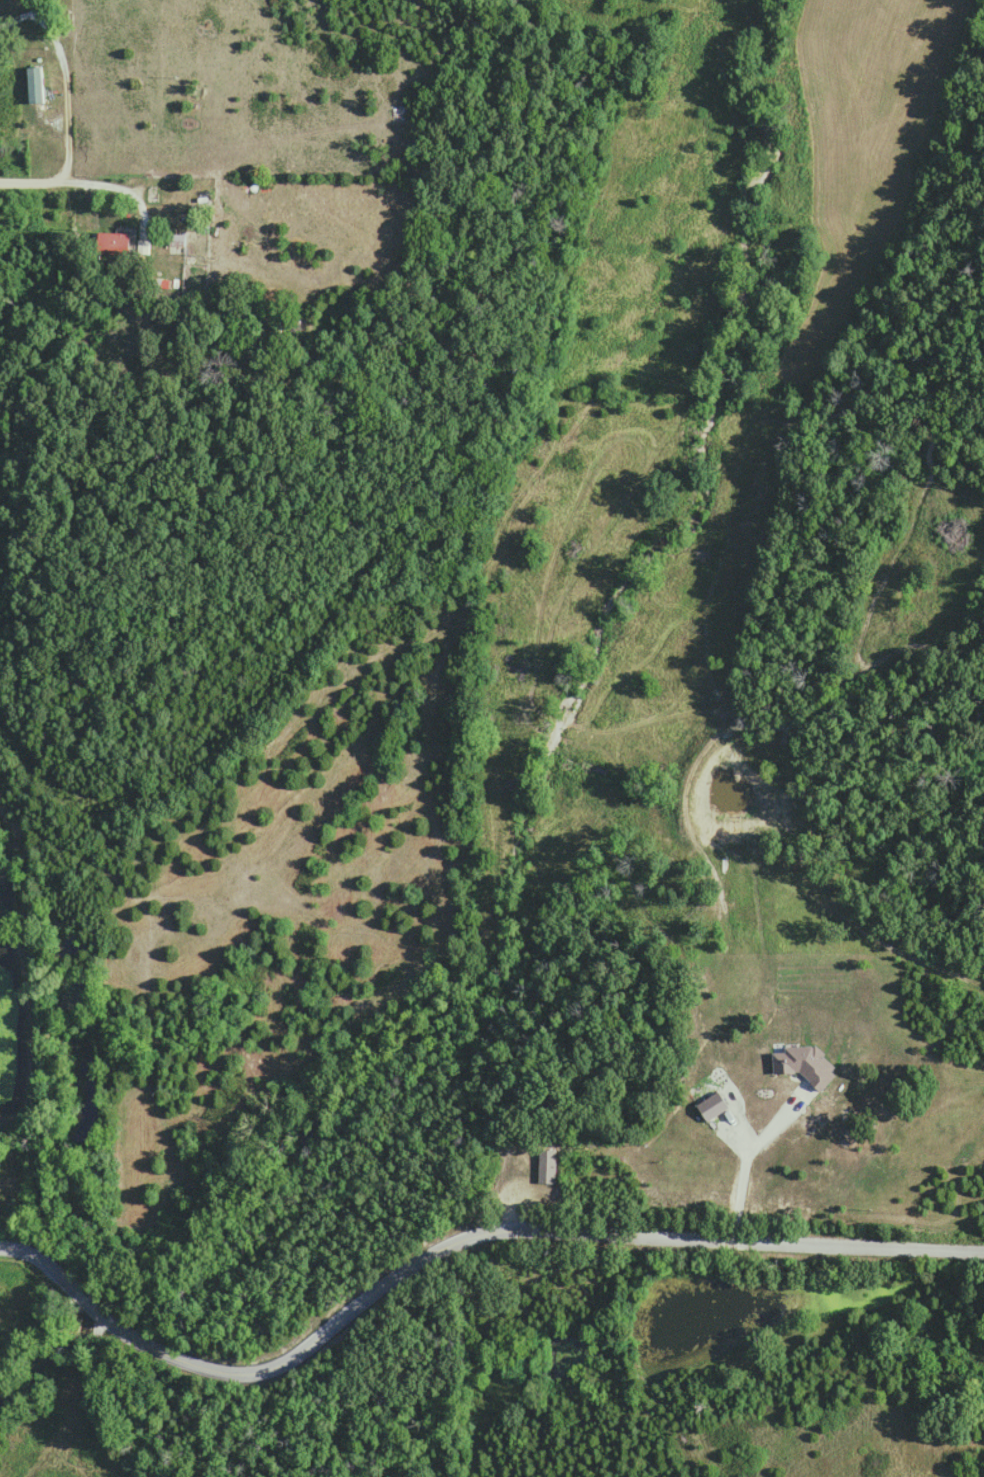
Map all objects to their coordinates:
road: (40, 13)
building: (34, 84)
road: (74, 114)
road: (90, 181)
building: (116, 241)
building: (177, 242)
building: (547, 1164)
road: (731, 1236)
road: (27, 1247)
road: (267, 1365)

